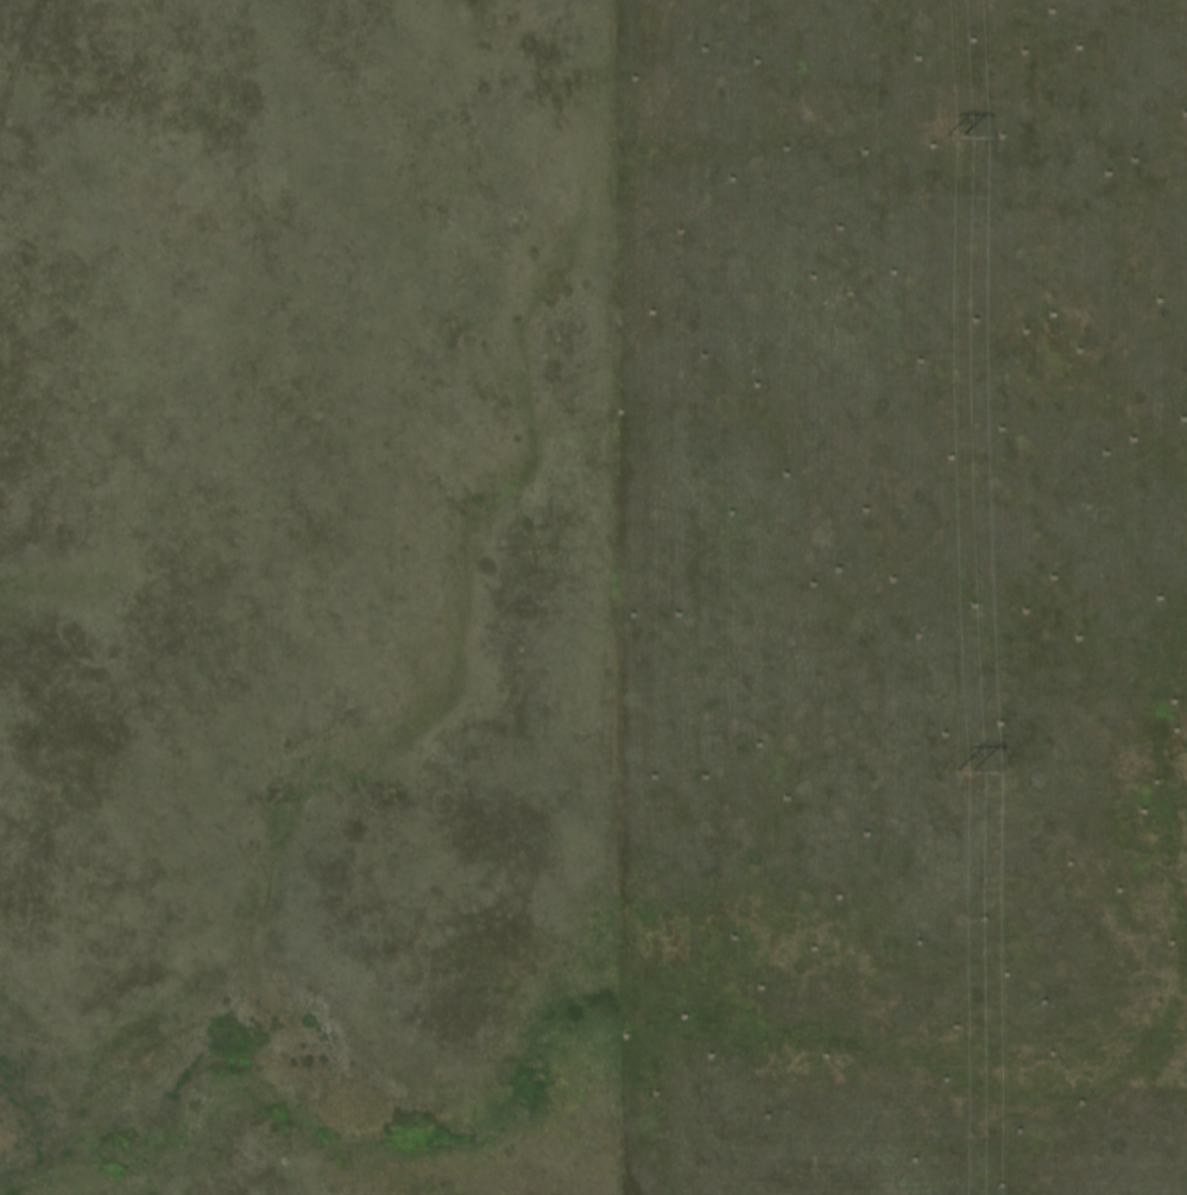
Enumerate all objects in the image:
power tower: (951, 135)
power tower: (954, 771)

